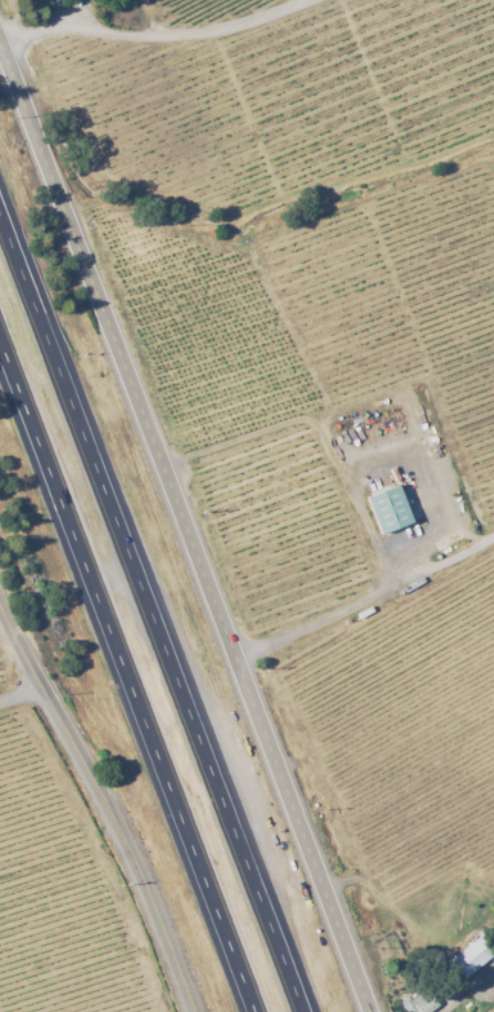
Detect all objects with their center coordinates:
road: (165, 41)
building: (381, 509)
road: (188, 530)
road: (154, 605)
road: (127, 674)
road: (26, 701)
road: (100, 790)
building: (467, 960)
road: (468, 989)
building: (416, 1002)

